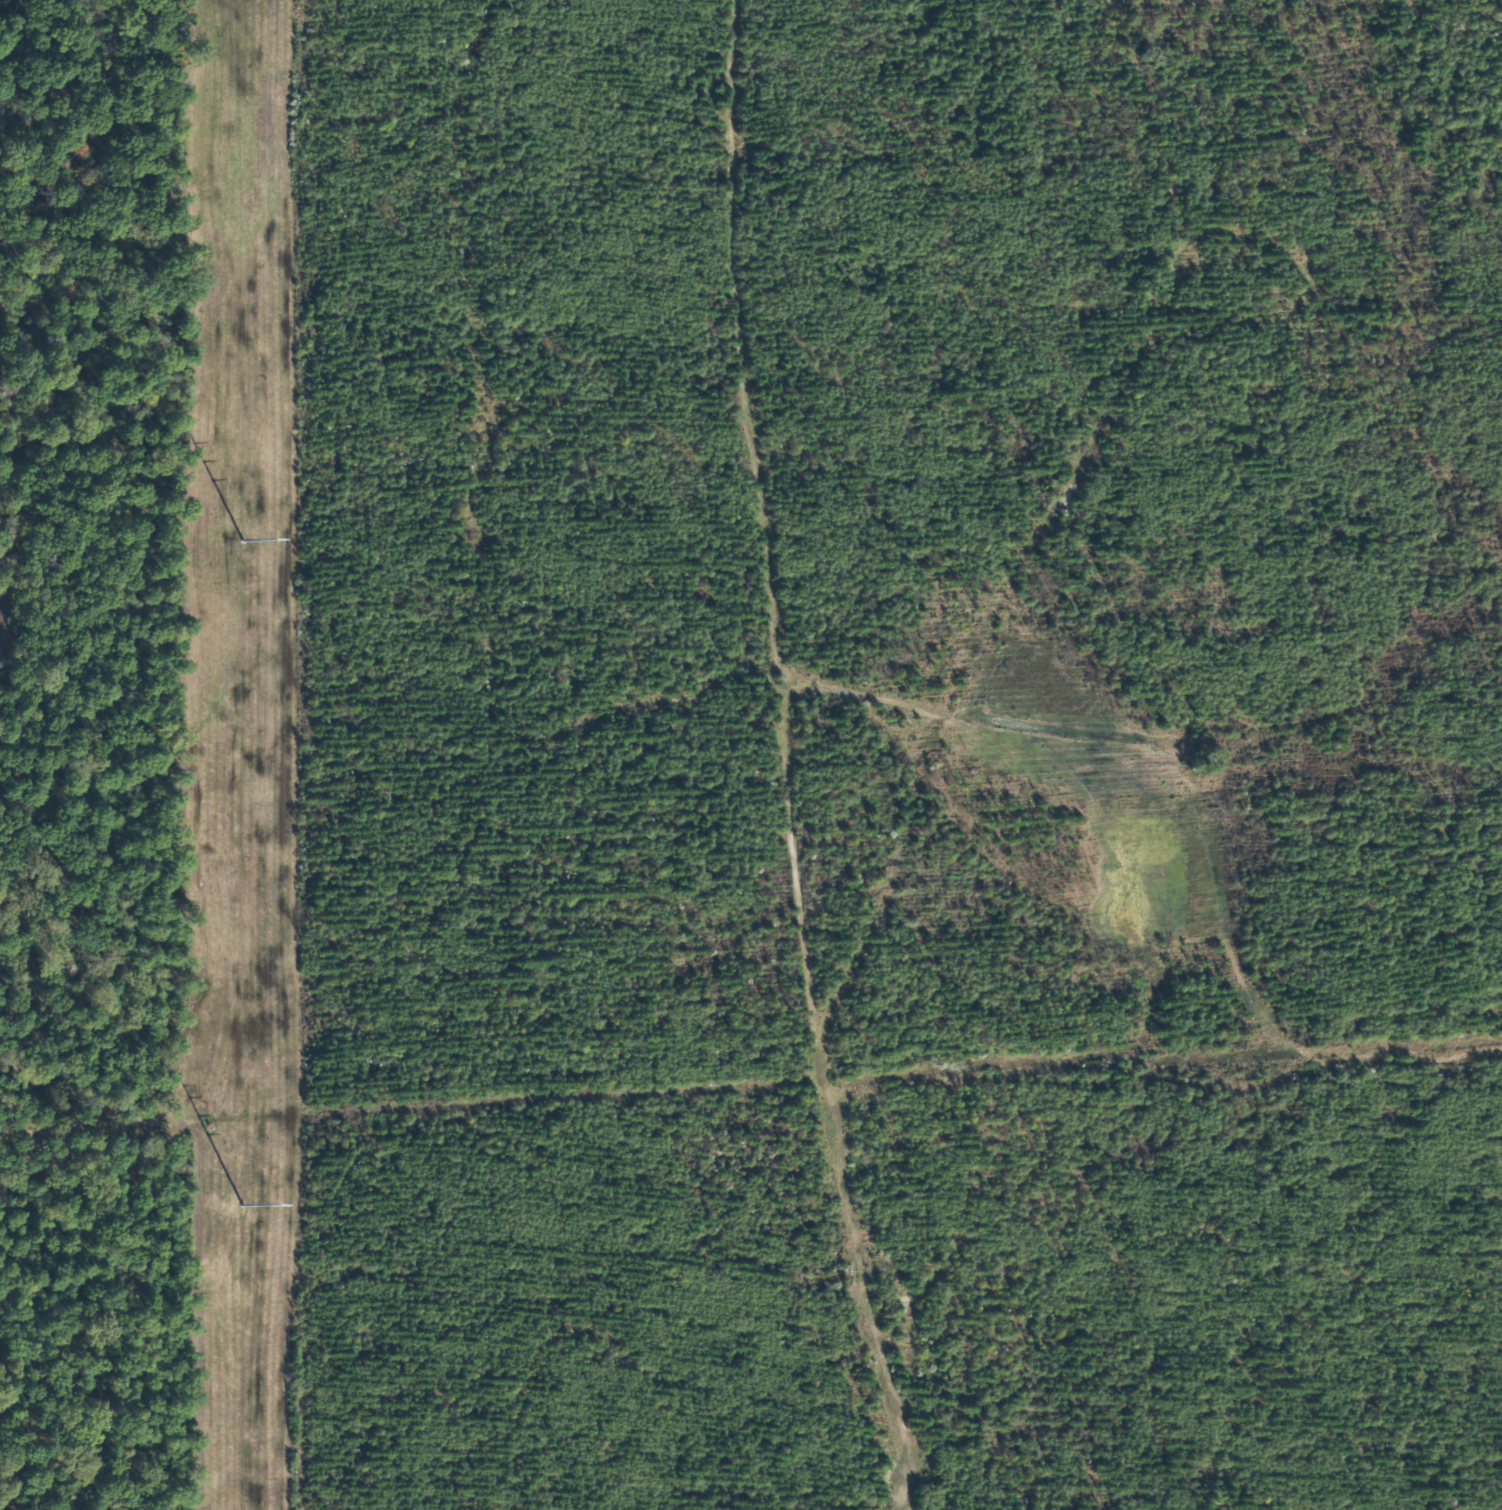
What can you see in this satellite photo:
road: (760, 1128)

